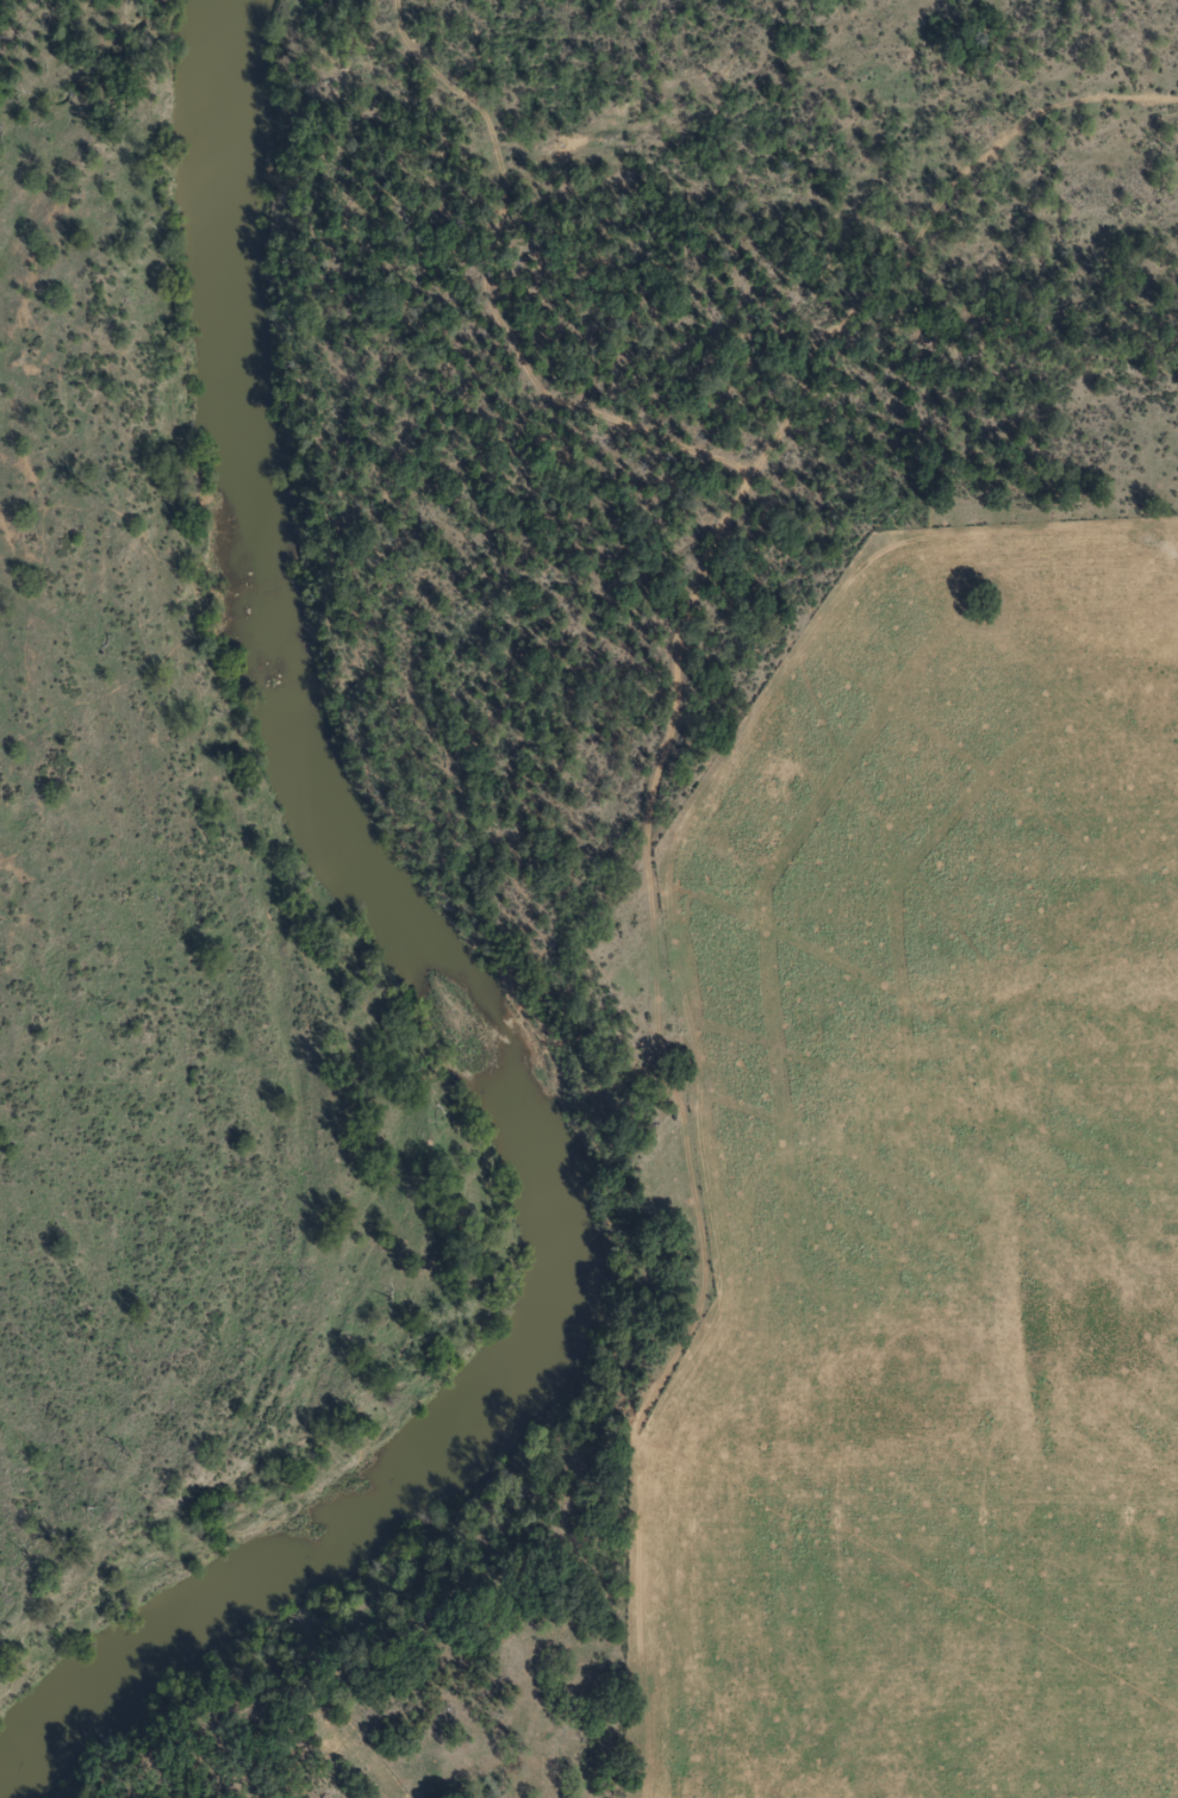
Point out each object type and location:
river: (467, 1003)

